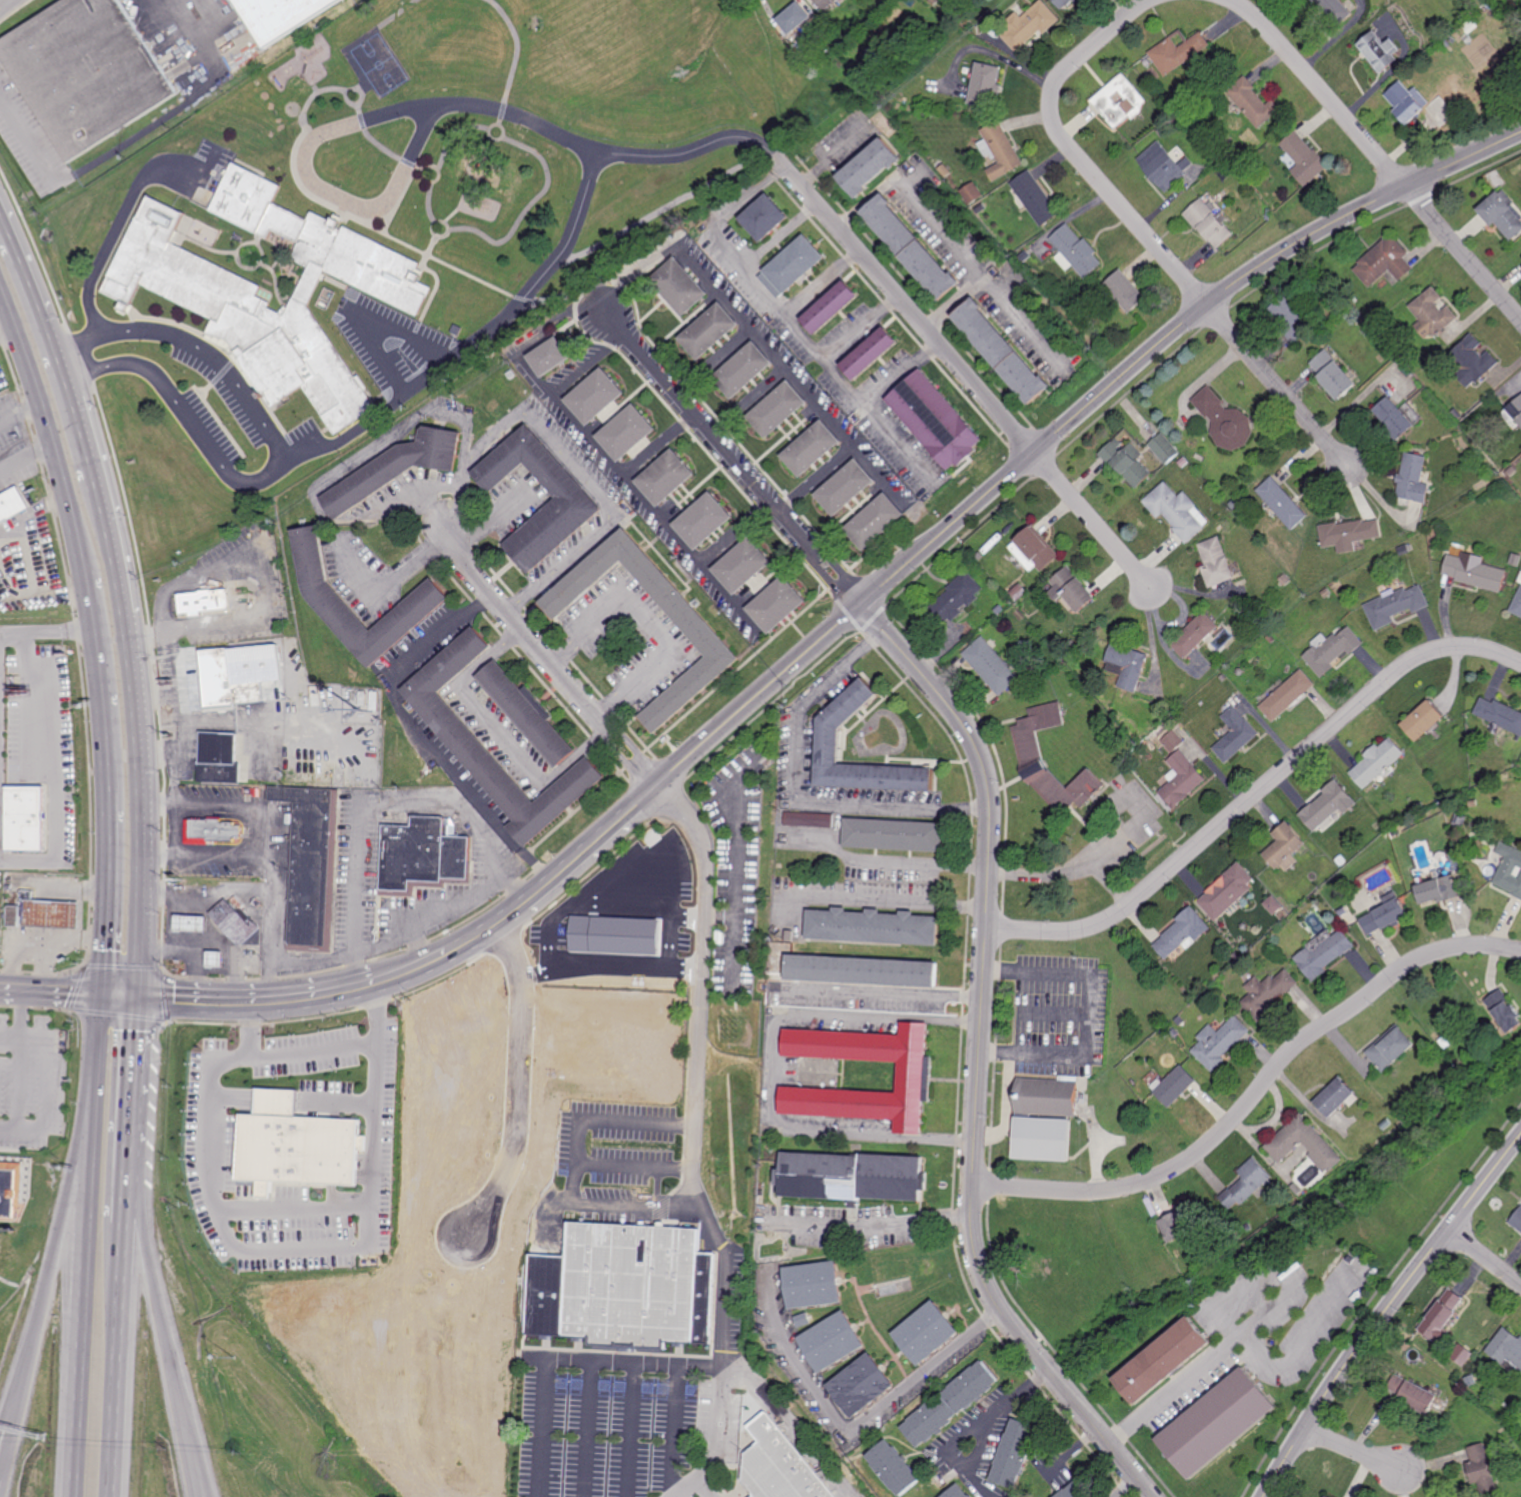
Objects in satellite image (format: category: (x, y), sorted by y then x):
building: (1083, 1)
road: (1, 2)
road: (4, 2)
building: (1065, 2)
building: (828, 3)
building: (1340, 10)
building: (282, 15)
building: (797, 15)
building: (1029, 23)
building: (808, 32)
building: (1436, 35)
building: (1446, 45)
building: (1381, 49)
building: (1178, 50)
building: (88, 72)
building: (985, 83)
building: (1104, 99)
building: (1253, 101)
building: (1408, 101)
road: (186, 104)
road: (477, 107)
building: (1226, 142)
road: (32, 148)
building: (1002, 150)
road: (1073, 150)
road: (1378, 156)
building: (1303, 159)
building: (872, 165)
building: (1165, 165)
building: (946, 170)
building: (972, 193)
building: (1036, 197)
road: (1169, 201)
building: (981, 207)
building: (1268, 213)
building: (1503, 214)
building: (767, 217)
building: (1209, 221)
road: (939, 229)
road: (114, 233)
road: (779, 235)
building: (991, 235)
building: (911, 247)
building: (1000, 247)
building: (1077, 250)
building: (1005, 252)
building: (1384, 262)
building: (797, 263)
building: (991, 265)
road: (546, 268)
road: (33, 274)
road: (821, 282)
road: (759, 285)
building: (681, 286)
building: (1126, 291)
building: (217, 299)
building: (1343, 305)
building: (832, 307)
building: (1068, 307)
building: (1432, 314)
building: (1291, 320)
road: (1022, 324)
road: (860, 326)
road: (379, 329)
building: (457, 329)
building: (1368, 331)
building: (711, 332)
road: (755, 334)
road: (1168, 336)
building: (1089, 339)
building: (1001, 352)
building: (873, 354)
building: (552, 357)
building: (1474, 358)
road: (67, 364)
road: (589, 365)
building: (745, 371)
building: (511, 374)
building: (1333, 376)
road: (970, 379)
road: (1277, 386)
building: (597, 396)
road: (1358, 400)
building: (1519, 402)
building: (780, 410)
road: (867, 410)
building: (1456, 414)
road: (521, 415)
road: (21, 417)
building: (1393, 419)
building: (936, 420)
building: (1225, 420)
building: (1520, 421)
road: (50, 433)
building: (628, 433)
road: (88, 434)
road: (659, 446)
building: (1164, 449)
building: (813, 450)
road: (600, 451)
road: (27, 458)
road: (279, 461)
road: (735, 461)
building: (1184, 462)
building: (1127, 464)
building: (1501, 466)
building: (398, 469)
building: (1511, 471)
building: (1412, 479)
building: (667, 480)
road: (819, 480)
building: (848, 489)
building: (575, 498)
building: (1282, 503)
building: (1234, 504)
building: (14, 506)
building: (1176, 511)
road: (616, 515)
road: (32, 516)
road: (496, 521)
building: (705, 523)
building: (878, 523)
road: (737, 535)
building: (1349, 535)
building: (1402, 548)
building: (1037, 549)
road: (117, 553)
road: (565, 561)
building: (1216, 562)
building: (743, 564)
building: (1474, 573)
road: (201, 578)
building: (1519, 579)
building: (1285, 580)
road: (395, 581)
road: (9, 587)
building: (1073, 587)
building: (1017, 590)
road: (1195, 592)
building: (1325, 593)
building: (955, 598)
building: (206, 600)
building: (779, 602)
road: (44, 603)
building: (1517, 604)
road: (516, 605)
building: (1395, 605)
building: (999, 609)
building: (413, 611)
road: (650, 623)
road: (47, 630)
building: (1196, 634)
building: (708, 636)
building: (1271, 639)
building: (1073, 644)
building: (1332, 650)
road: (547, 657)
building: (1128, 664)
building: (991, 665)
building: (1239, 671)
building: (1222, 677)
building: (228, 680)
building: (1287, 695)
building: (363, 698)
road: (162, 699)
building: (375, 700)
building: (530, 711)
building: (1500, 714)
building: (1423, 719)
building: (460, 732)
road: (421, 733)
road: (500, 734)
building: (1235, 734)
building: (1172, 741)
building: (831, 745)
building: (222, 757)
building: (1033, 762)
building: (1377, 762)
building: (1478, 778)
building: (1181, 780)
road: (107, 788)
road: (795, 793)
road: (1256, 793)
road: (452, 799)
building: (1473, 803)
building: (1328, 805)
road: (145, 806)
building: (1419, 806)
building: (26, 819)
building: (1458, 819)
building: (810, 820)
building: (213, 831)
building: (1393, 831)
building: (895, 835)
road: (1124, 840)
road: (269, 843)
building: (1284, 847)
road: (207, 853)
building: (423, 853)
building: (309, 862)
road: (886, 862)
building: (1340, 862)
building: (1508, 869)
road: (1068, 870)
building: (784, 884)
building: (1460, 885)
building: (9, 887)
road: (541, 887)
road: (736, 889)
road: (357, 890)
building: (1437, 890)
building: (1228, 891)
road: (208, 898)
road: (454, 902)
road: (885, 902)
building: (1272, 905)
building: (1341, 911)
building: (46, 914)
building: (1385, 914)
road: (719, 916)
building: (1330, 917)
building: (235, 921)
road: (170, 922)
building: (193, 924)
building: (874, 927)
building: (1182, 932)
building: (791, 936)
road: (384, 945)
road: (207, 948)
building: (1323, 955)
building: (217, 960)
road: (214, 970)
road: (192, 972)
building: (862, 972)
road: (235, 973)
road: (51, 989)
traffic signals: (103, 993)
road: (881, 993)
road: (122, 994)
building: (1266, 994)
traffic signals: (142, 996)
building: (1504, 1010)
road: (1085, 1017)
road: (251, 1028)
building: (1163, 1033)
building: (1174, 1033)
road: (10, 1035)
building: (1218, 1043)
building: (1390, 1048)
road: (978, 1059)
road: (19, 1066)
road: (774, 1068)
building: (915, 1075)
road: (517, 1081)
building: (1175, 1087)
building: (1083, 1088)
road: (1255, 1093)
road: (137, 1096)
building: (1046, 1097)
building: (1335, 1098)
building: (1400, 1107)
road: (1006, 1108)
building: (1389, 1123)
building: (1041, 1140)
road: (693, 1144)
building: (1283, 1145)
building: (297, 1146)
building: (852, 1178)
building: (1246, 1184)
building: (1306, 1191)
building: (7, 1193)
road: (625, 1203)
road: (131, 1209)
road: (295, 1211)
building: (1515, 1219)
building: (1179, 1225)
road: (870, 1227)
building: (1248, 1227)
road: (53, 1239)
road: (85, 1244)
road: (258, 1247)
building: (1208, 1256)
road: (1484, 1257)
building: (813, 1283)
building: (622, 1287)
road: (159, 1298)
road: (1385, 1312)
building: (1440, 1314)
building: (801, 1320)
road: (1223, 1324)
building: (926, 1331)
road: (1308, 1339)
building: (832, 1340)
building: (1506, 1349)
road: (562, 1358)
road: (123, 1359)
building: (1160, 1361)
road: (1200, 1369)
building: (862, 1384)
building: (1411, 1395)
building: (949, 1403)
road: (1007, 1405)
road: (6, 1420)
road: (788, 1424)
building: (1214, 1424)
road: (850, 1425)
road: (588, 1429)
road: (629, 1430)
road: (673, 1431)
road: (188, 1433)
road: (1353, 1449)
road: (1072, 1451)
road: (6, 1453)
building: (1013, 1453)
building: (780, 1465)
building: (893, 1467)
building: (1479, 1468)
road: (969, 1472)
road: (197, 1481)
road: (201, 1481)
road: (704, 1487)
road: (1123, 1487)
building: (1075, 1490)
building: (955, 1492)

